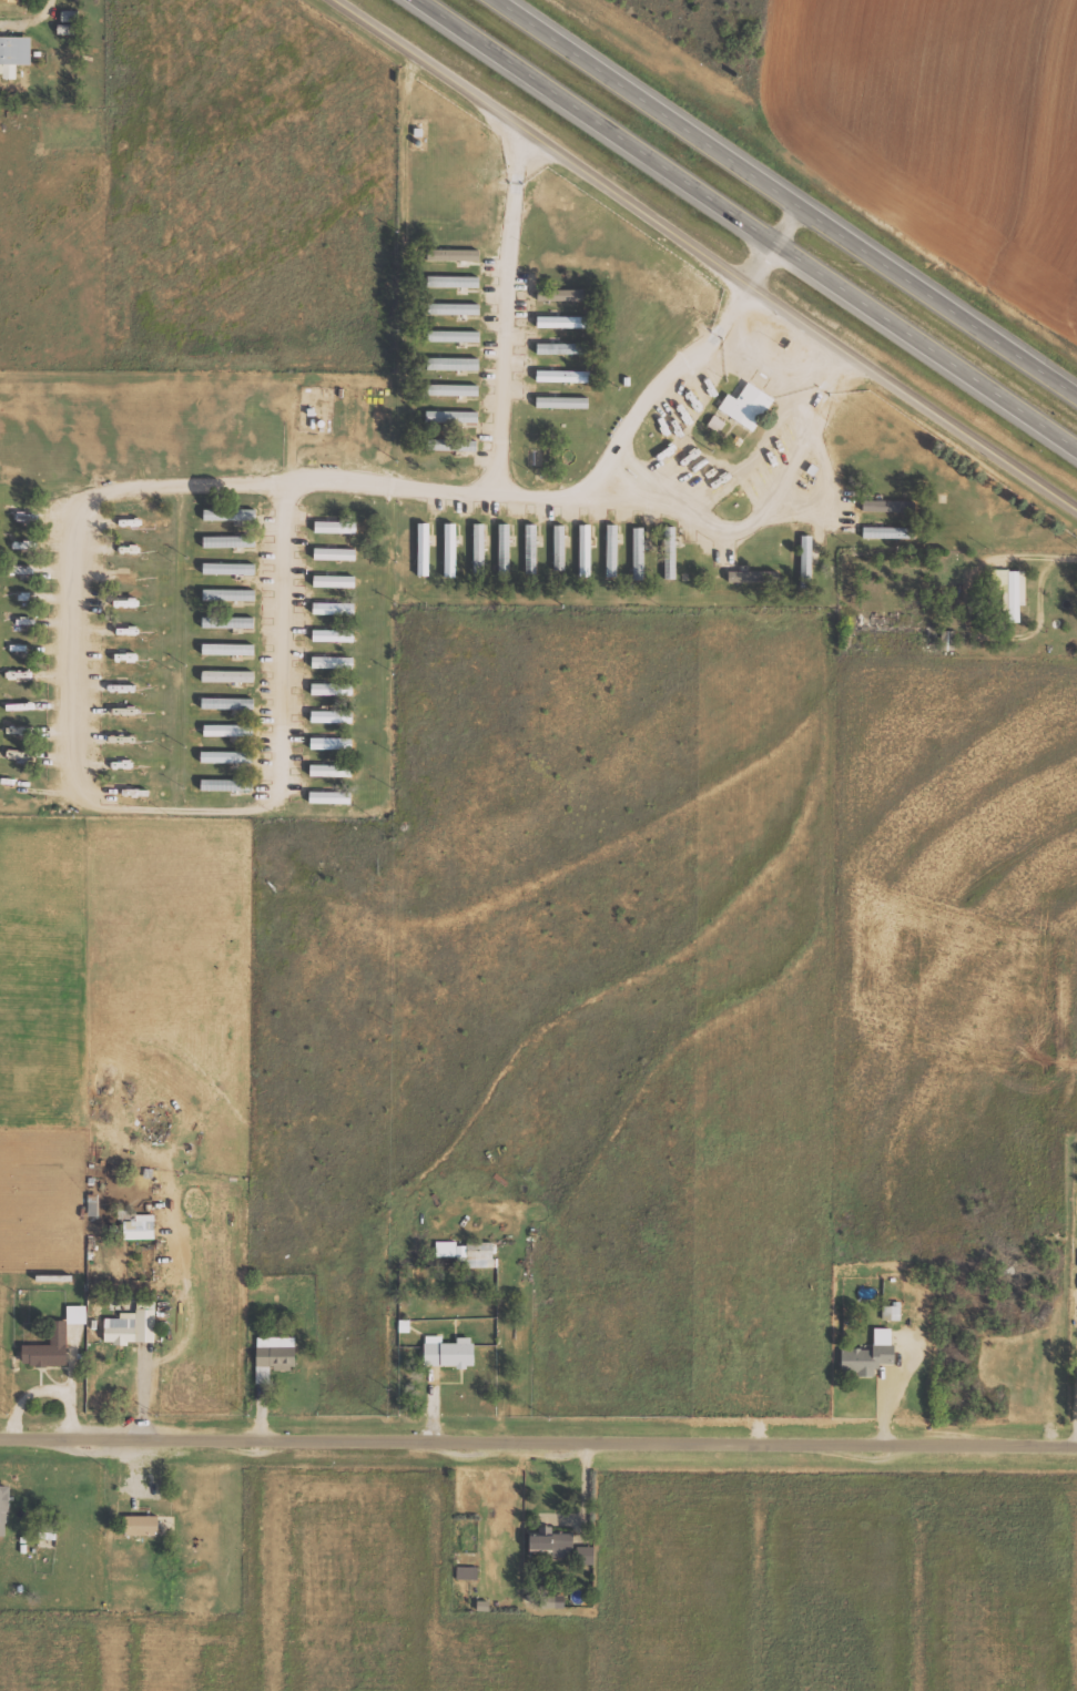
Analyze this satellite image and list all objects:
building: (3, 0)
building: (11, 0)
building: (12, 54)
road: (790, 195)
road: (752, 221)
road: (774, 242)
road: (710, 253)
building: (455, 254)
building: (454, 281)
building: (563, 294)
building: (454, 308)
road: (502, 308)
building: (562, 322)
building: (454, 335)
building: (556, 348)
building: (454, 363)
building: (555, 375)
road: (658, 385)
building: (454, 389)
building: (562, 401)
building: (748, 406)
building: (451, 416)
building: (717, 424)
road: (806, 430)
building: (451, 445)
road: (102, 490)
building: (888, 506)
building: (28, 515)
building: (231, 515)
building: (334, 527)
building: (531, 534)
building: (451, 539)
building: (639, 539)
building: (231, 541)
building: (480, 544)
building: (505, 544)
building: (560, 546)
building: (586, 546)
building: (671, 547)
building: (425, 549)
building: (612, 550)
building: (335, 553)
building: (230, 568)
building: (450, 572)
building: (752, 575)
building: (331, 581)
building: (1005, 590)
building: (230, 594)
building: (334, 608)
building: (228, 622)
building: (334, 635)
building: (948, 640)
building: (228, 649)
building: (333, 662)
building: (228, 675)
building: (333, 689)
building: (228, 703)
building: (332, 716)
building: (228, 730)
building: (332, 742)
building: (227, 756)
building: (331, 770)
building: (227, 784)
building: (331, 796)
building: (139, 1225)
building: (453, 1250)
building: (481, 1254)
building: (77, 1314)
building: (133, 1325)
building: (49, 1348)
building: (449, 1352)
building: (871, 1354)
building: (274, 1356)
road: (538, 1442)
building: (3, 1508)
building: (142, 1524)
building: (553, 1540)
building: (586, 1554)
building: (467, 1571)

